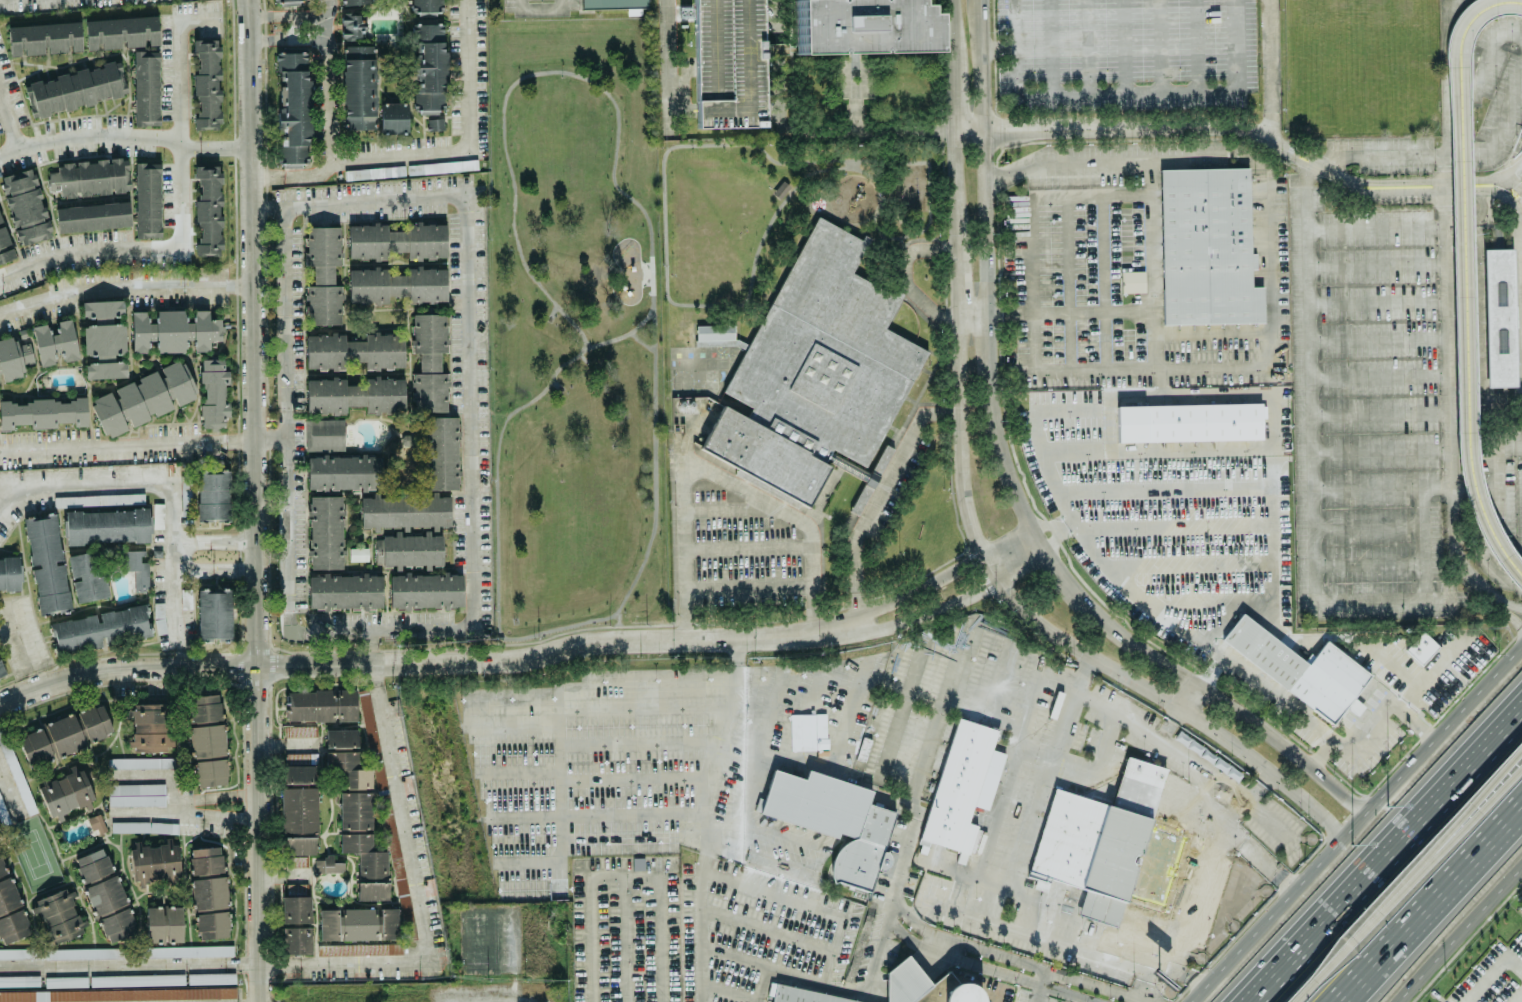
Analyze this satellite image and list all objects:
building: (288, 1)
building: (355, 1)
building: (610, 3)
building: (427, 6)
road: (539, 8)
road: (286, 13)
road: (1475, 18)
road: (296, 25)
building: (352, 25)
road: (1015, 25)
building: (860, 26)
road: (1458, 27)
building: (81, 34)
road: (287, 37)
road: (1005, 43)
road: (993, 46)
road: (986, 49)
road: (1003, 52)
parking lot: (1127, 56)
road: (1485, 60)
parking lot: (727, 62)
building: (727, 63)
road: (668, 65)
road: (953, 66)
road: (981, 66)
building: (428, 67)
road: (1272, 69)
road: (579, 77)
road: (329, 79)
building: (206, 82)
building: (358, 86)
building: (146, 87)
building: (74, 88)
road: (1154, 88)
building: (292, 107)
road: (856, 110)
building: (393, 116)
building: (434, 122)
road: (1173, 128)
road: (11, 129)
road: (182, 132)
road: (970, 132)
road: (1449, 133)
road: (98, 134)
road: (833, 134)
road: (1215, 137)
road: (467, 140)
road: (217, 146)
road: (1448, 152)
road: (1127, 157)
road: (852, 162)
building: (441, 166)
road: (1443, 166)
road: (1510, 170)
road: (928, 171)
road: (298, 172)
building: (89, 176)
road: (1516, 176)
road: (1477, 178)
road: (1397, 179)
road: (1500, 185)
road: (1516, 185)
road: (957, 188)
road: (1483, 189)
road: (1410, 190)
building: (146, 199)
road: (374, 200)
building: (25, 205)
road: (1510, 205)
road: (269, 206)
road: (1444, 206)
building: (208, 208)
road: (1480, 210)
road: (1518, 213)
building: (92, 215)
road: (1269, 219)
road: (1375, 226)
road: (1517, 235)
building: (396, 239)
road: (1520, 239)
road: (903, 242)
building: (5, 244)
building: (1206, 246)
road: (87, 248)
road: (1470, 260)
road: (1376, 264)
building: (322, 274)
building: (1131, 280)
road: (1068, 281)
road: (1104, 281)
road: (958, 282)
building: (397, 284)
road: (1028, 284)
road: (125, 286)
road: (911, 287)
road: (1377, 298)
road: (1091, 310)
road: (1470, 313)
building: (1501, 314)
road: (1519, 316)
road: (1454, 319)
parking lot: (1469, 319)
road: (1481, 319)
road: (1467, 325)
park: (576, 326)
building: (174, 330)
road: (1457, 332)
road: (622, 334)
building: (715, 334)
building: (86, 338)
road: (1378, 338)
road: (639, 341)
building: (354, 350)
parking lot: (1398, 358)
road: (588, 360)
building: (428, 361)
road: (1156, 362)
road: (1471, 368)
building: (814, 372)
road: (1379, 376)
building: (178, 381)
building: (213, 392)
building: (354, 394)
building: (32, 396)
road: (1448, 399)
building: (130, 403)
road: (1051, 403)
road: (469, 409)
road: (1380, 411)
road: (1502, 414)
building: (1188, 421)
road: (694, 428)
building: (324, 434)
road: (142, 443)
road: (1381, 449)
building: (440, 451)
road: (1495, 452)
road: (165, 479)
road: (884, 486)
road: (1404, 487)
road: (747, 488)
road: (1313, 489)
building: (212, 493)
building: (185, 495)
road: (256, 497)
building: (98, 498)
road: (286, 509)
building: (385, 509)
road: (726, 509)
building: (157, 515)
building: (106, 525)
road: (1370, 525)
road: (1055, 526)
building: (324, 531)
road: (215, 540)
road: (1496, 541)
road: (683, 544)
road: (816, 546)
road: (1043, 546)
road: (750, 547)
building: (357, 553)
building: (46, 561)
road: (1371, 562)
building: (136, 566)
road: (215, 568)
building: (9, 573)
building: (86, 575)
road: (750, 584)
road: (926, 585)
building: (425, 589)
building: (344, 590)
road: (1148, 600)
road: (1510, 604)
road: (937, 609)
building: (1203, 610)
building: (213, 613)
road: (1510, 614)
building: (159, 616)
road: (618, 623)
building: (101, 628)
road: (1060, 637)
road: (24, 644)
building: (1421, 647)
road: (736, 657)
road: (406, 661)
road: (1392, 665)
building: (1300, 668)
building: (1, 670)
road: (1434, 673)
road: (992, 696)
road: (1277, 696)
building: (345, 703)
building: (310, 704)
road: (1071, 706)
building: (205, 707)
road: (898, 714)
road: (1177, 714)
building: (148, 726)
road: (1371, 727)
building: (301, 730)
road: (1444, 732)
building: (64, 733)
building: (371, 734)
building: (340, 737)
building: (207, 739)
road: (559, 739)
road: (289, 742)
road: (640, 742)
road: (1184, 755)
road: (774, 758)
building: (140, 762)
building: (348, 768)
building: (15, 771)
building: (211, 771)
building: (298, 773)
building: (960, 783)
road: (10, 788)
building: (64, 793)
building: (136, 793)
road: (173, 793)
road: (217, 795)
building: (0, 799)
road: (900, 801)
road: (1166, 801)
building: (298, 809)
road: (1468, 811)
road: (216, 812)
building: (832, 819)
road: (1470, 822)
building: (97, 823)
building: (144, 825)
road: (910, 828)
building: (0, 832)
building: (360, 833)
road: (705, 839)
building: (299, 844)
building: (1109, 846)
building: (738, 850)
road: (1386, 855)
building: (154, 861)
road: (901, 862)
building: (327, 864)
road: (286, 873)
road: (625, 873)
building: (372, 889)
building: (208, 891)
building: (105, 894)
road: (1276, 907)
road: (1433, 907)
building: (10, 908)
building: (295, 908)
building: (58, 914)
building: (153, 922)
building: (357, 922)
building: (388, 922)
building: (172, 923)
building: (328, 923)
road: (767, 928)
road: (1461, 935)
road: (623, 937)
road: (838, 937)
building: (296, 939)
road: (1355, 939)
road: (942, 944)
building: (360, 948)
road: (735, 955)
road: (382, 960)
road: (970, 962)
road: (1514, 962)
road: (778, 968)
road: (1130, 968)
building: (211, 977)
building: (136, 978)
road: (1485, 978)
road: (1191, 979)
building: (65, 980)
road: (1038, 985)
building: (925, 986)
building: (119, 993)
road: (504, 995)
building: (805, 995)
road: (1516, 996)
road: (177, 999)
road: (262, 999)
road: (1136, 1000)

